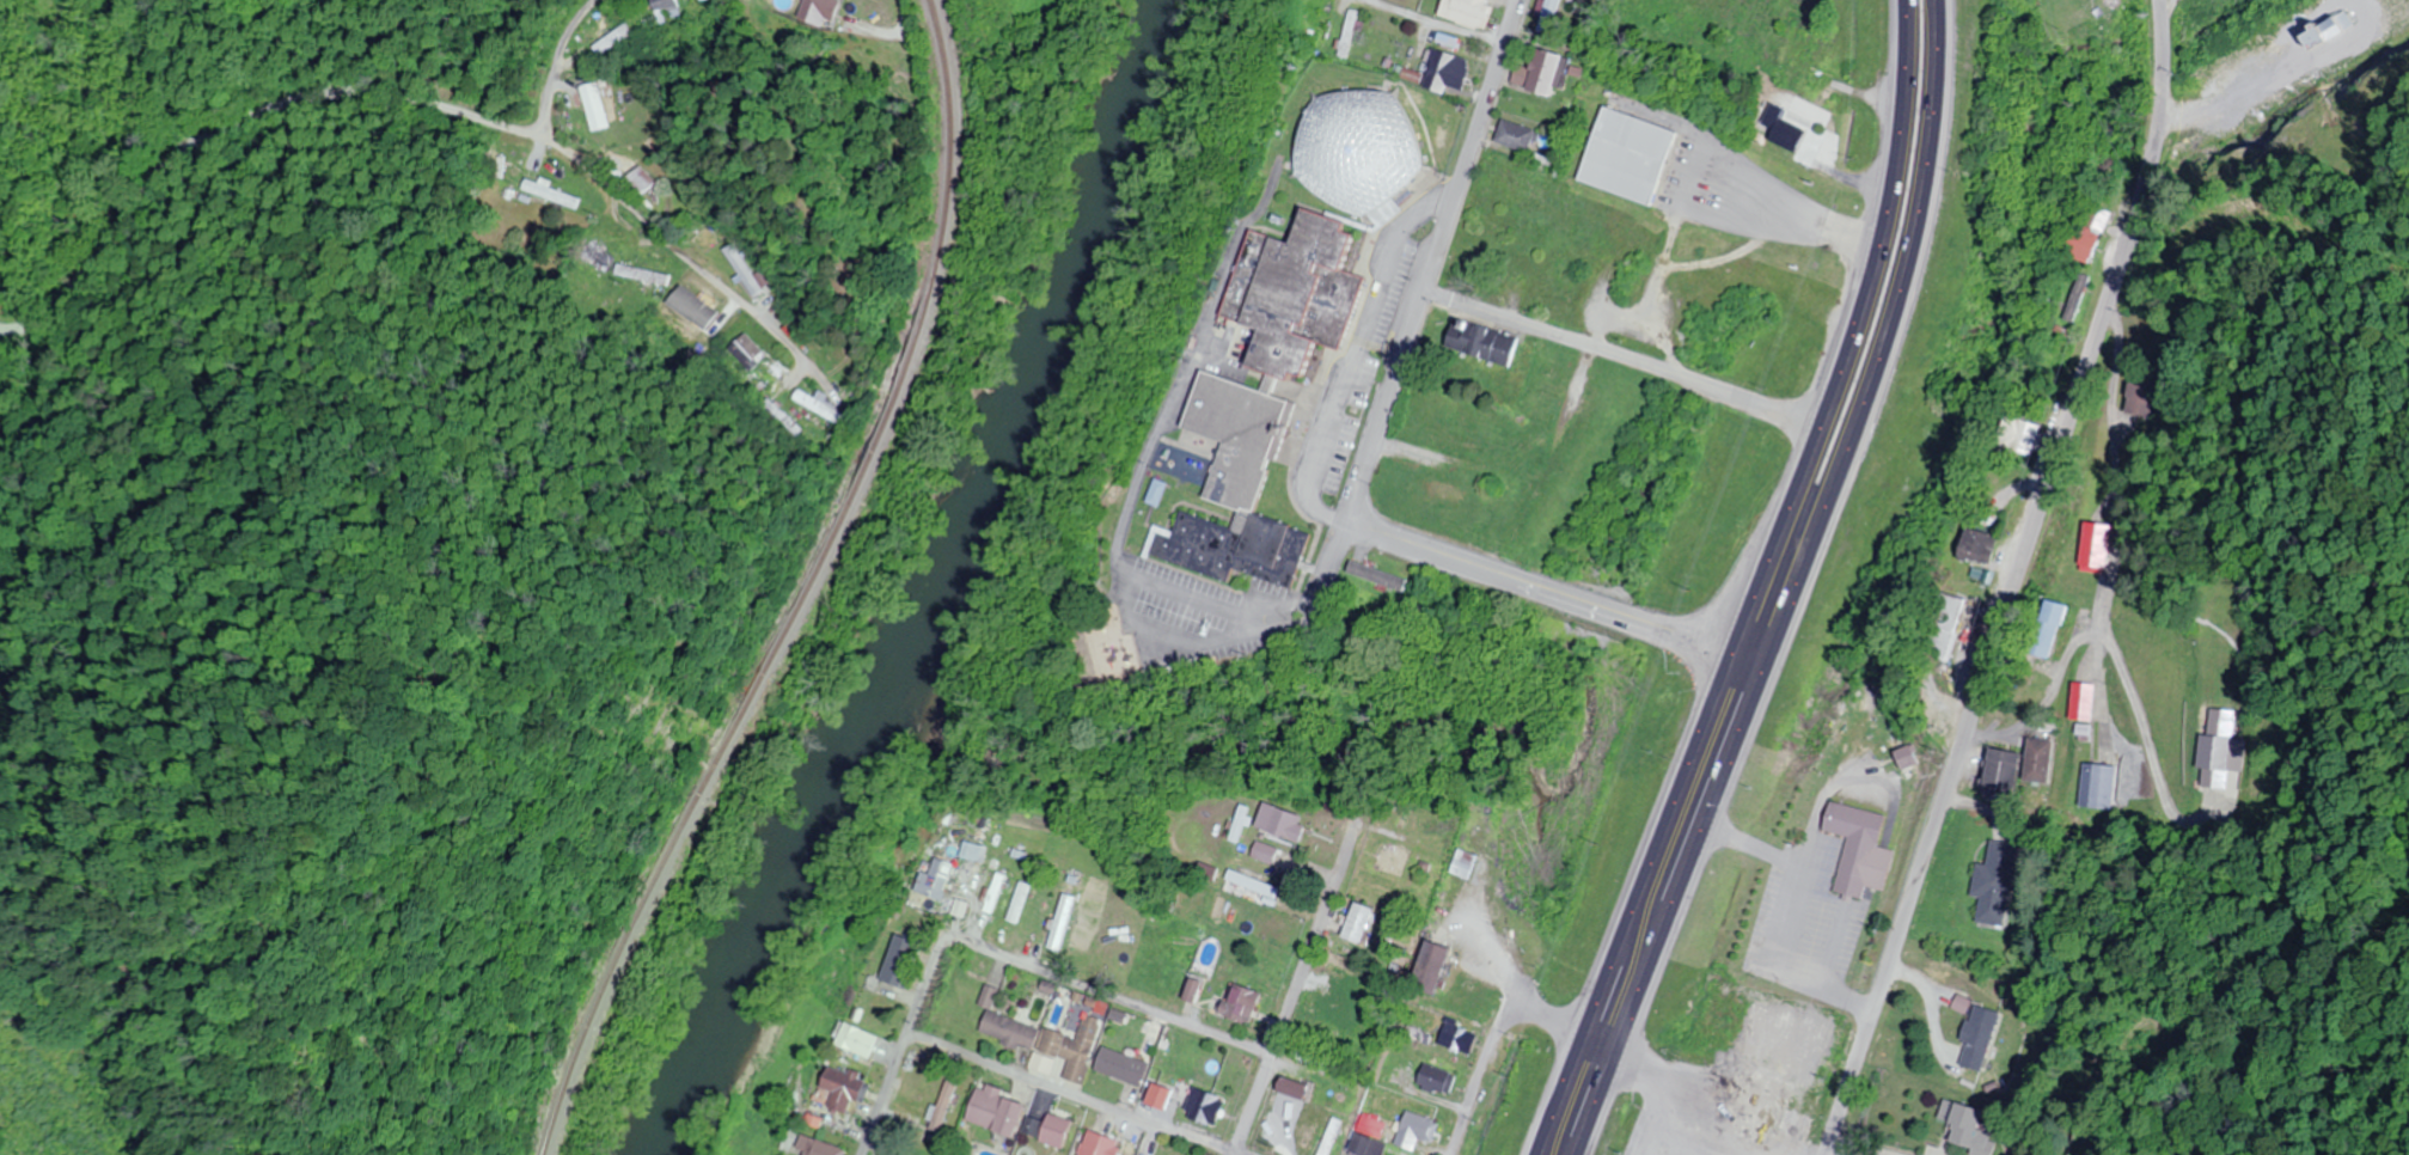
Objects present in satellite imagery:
building: (820, 6)
building: (669, 11)
building: (1467, 11)
building: (1549, 16)
building: (2393, 16)
road: (1441, 26)
building: (1351, 33)
building: (1449, 41)
building: (1806, 47)
road: (558, 67)
road: (2282, 68)
building: (1448, 69)
building: (1545, 72)
road: (395, 105)
building: (594, 106)
building: (1517, 135)
building: (1787, 135)
road: (1700, 155)
building: (1370, 165)
building: (1638, 169)
building: (637, 179)
building: (549, 192)
parking lot: (1726, 194)
road: (1832, 222)
building: (1484, 224)
building: (2092, 234)
building: (598, 258)
building: (735, 269)
building: (642, 274)
road: (1430, 295)
building: (1482, 343)
building: (742, 352)
road: (1628, 359)
road: (1364, 366)
building: (2145, 397)
building: (801, 401)
building: (1276, 410)
building: (2036, 438)
flagpole: (1302, 439)
building: (1982, 545)
building: (2099, 545)
road: (2117, 560)
road: (2011, 579)
road: (1797, 585)
road: (1761, 586)
river: (935, 587)
railway: (795, 588)
road: (1563, 598)
building: (1950, 627)
building: (2050, 629)
road: (2104, 682)
building: (2084, 702)
road: (2146, 731)
building: (2220, 751)
building: (2040, 759)
building: (2003, 771)
building: (2099, 786)
building: (1284, 824)
building: (1861, 850)
building: (973, 851)
building: (1267, 854)
building: (1394, 860)
building: (1468, 866)
building: (1211, 872)
building: (942, 875)
building: (1995, 882)
building: (1257, 886)
building: (999, 893)
building: (1023, 903)
building: (1065, 923)
building: (1361, 923)
building: (904, 962)
building: (1432, 968)
road: (1298, 990)
road: (923, 1000)
building: (1242, 1004)
building: (1353, 1012)
road: (1160, 1013)
road: (1502, 1026)
building: (1009, 1027)
building: (1457, 1037)
building: (1979, 1038)
building: (860, 1041)
building: (1076, 1049)
building: (1306, 1053)
building: (1125, 1067)
building: (1437, 1078)
building: (1296, 1088)
building: (849, 1089)
road: (1075, 1093)
building: (1161, 1098)
building: (947, 1107)
building: (1205, 1107)
building: (1765, 1107)
building: (998, 1111)
building: (1374, 1125)
building: (1419, 1125)
building: (1970, 1130)
building: (1057, 1131)
building: (1332, 1137)
building: (1100, 1144)
building: (1368, 1145)
road: (1864, 1147)
building: (827, 1149)

